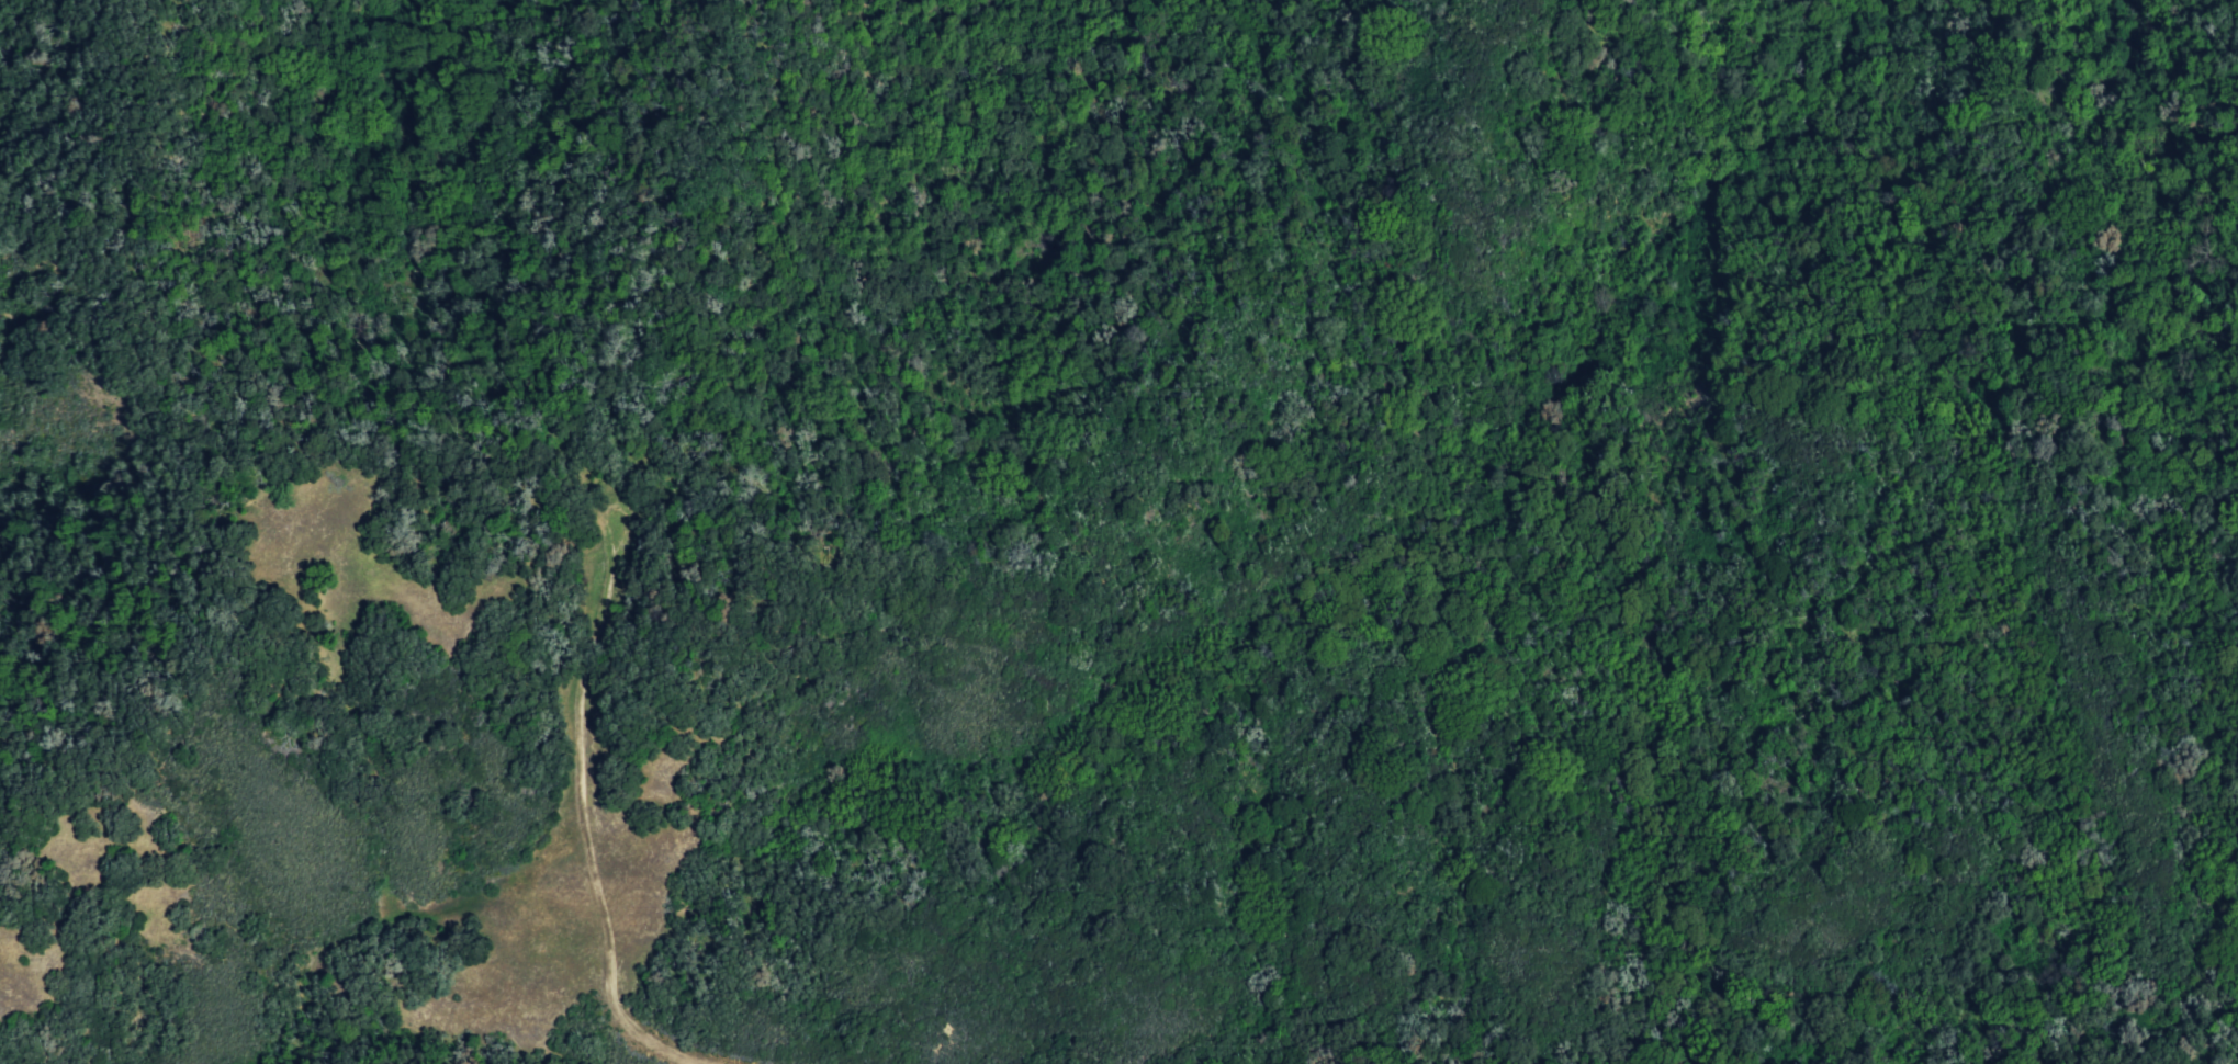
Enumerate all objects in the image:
road: (592, 864)

